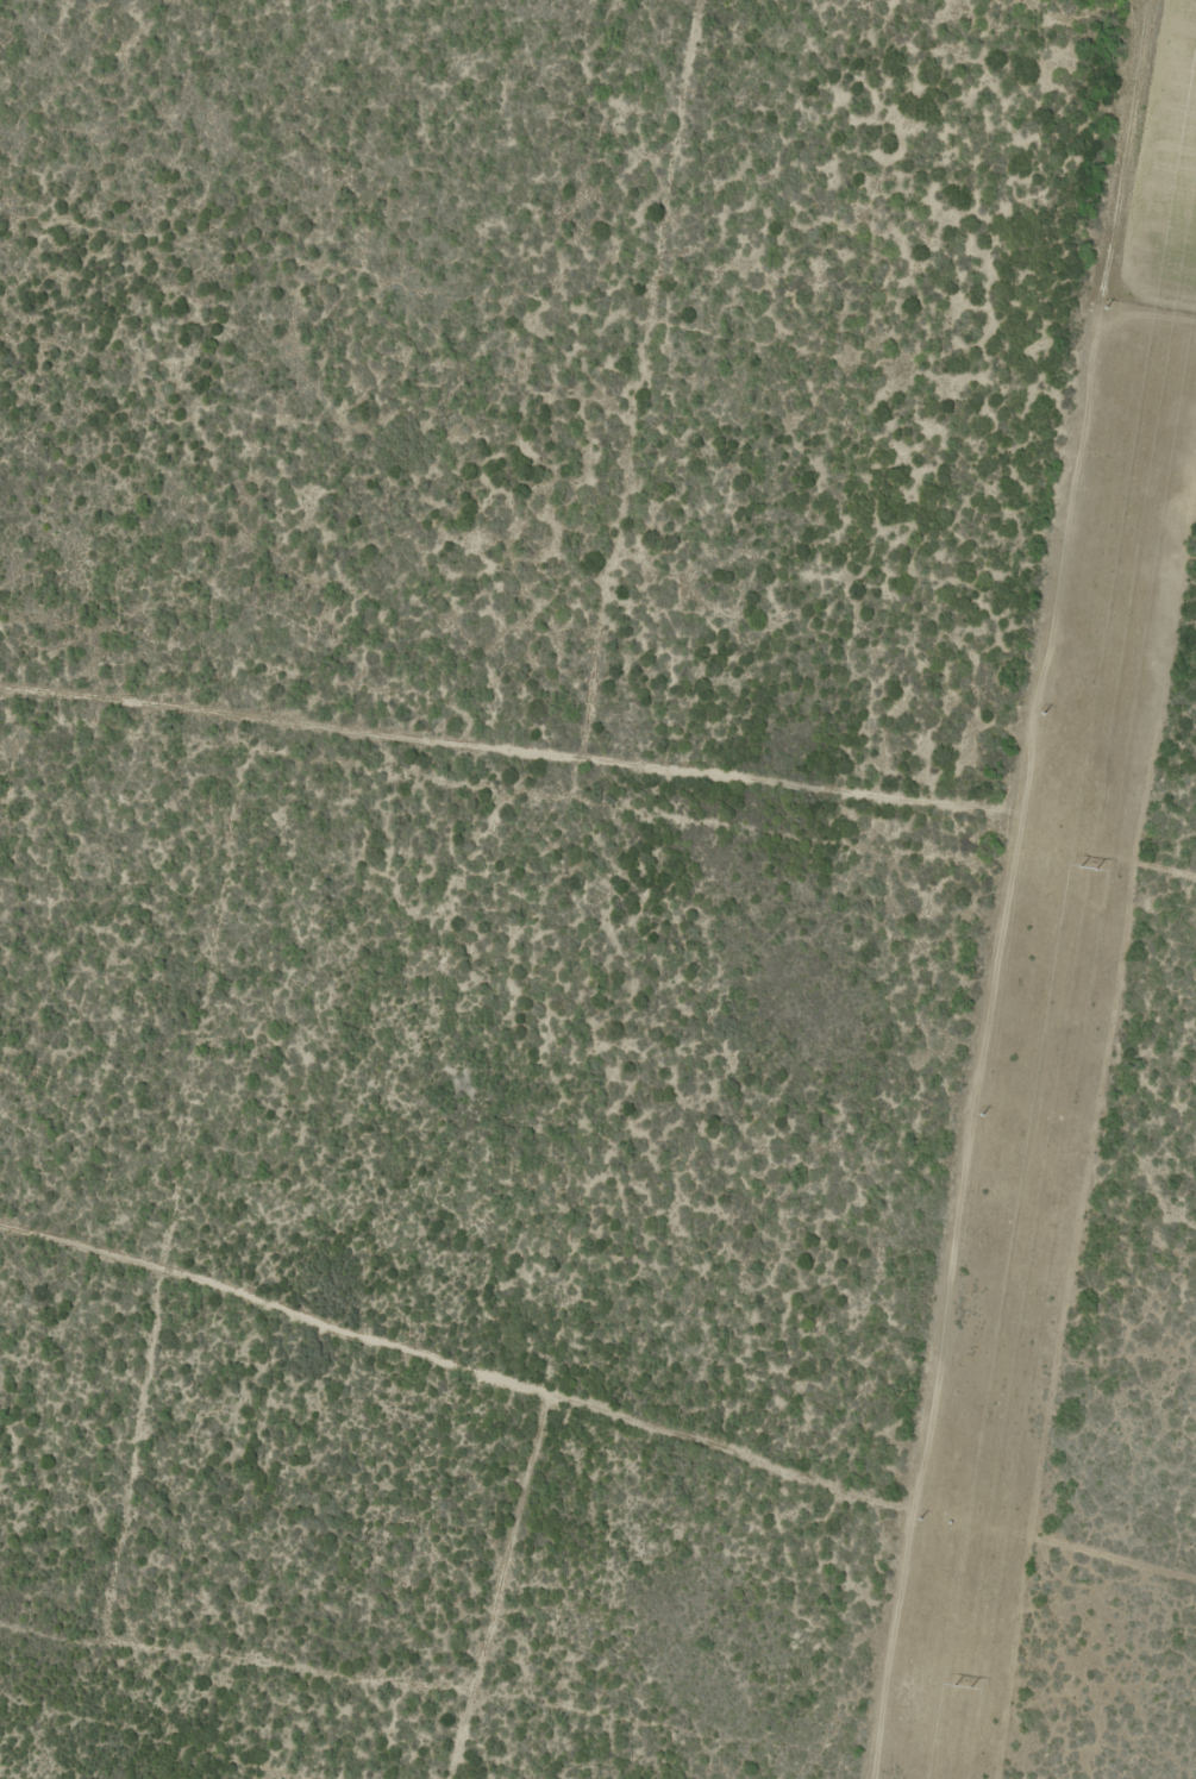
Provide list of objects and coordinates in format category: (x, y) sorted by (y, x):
power tower: (1087, 866)
road: (569, 1371)
power tower: (959, 1685)

